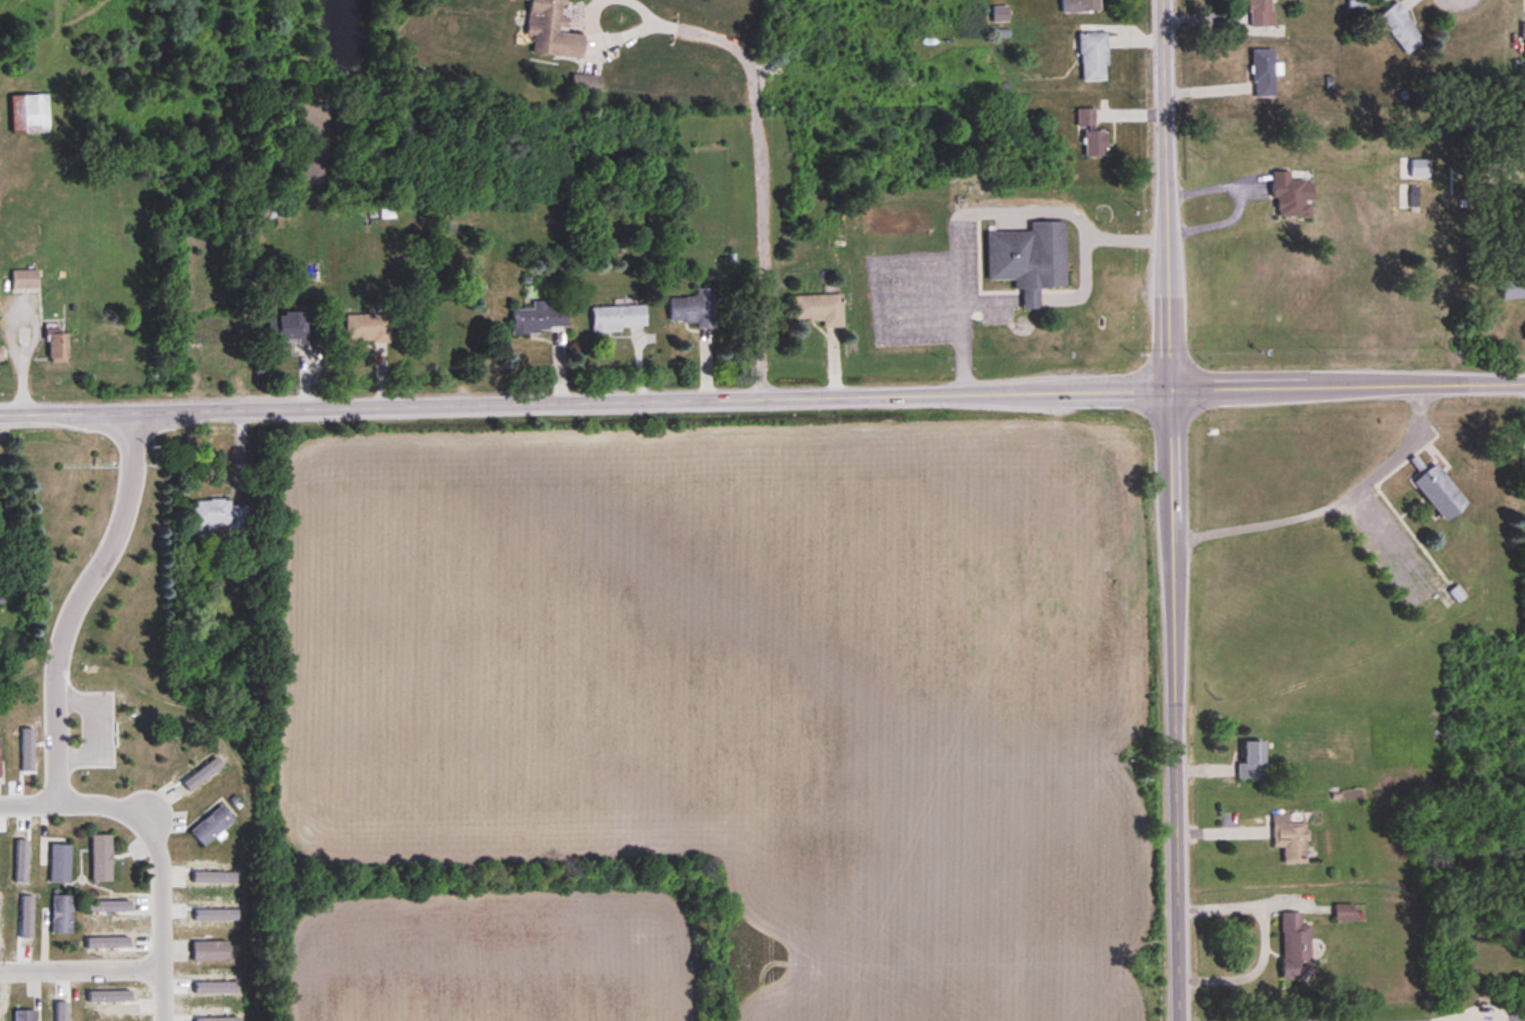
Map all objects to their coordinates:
building: (1358, 4)
building: (1081, 6)
road: (645, 10)
building: (1261, 13)
building: (1399, 28)
building: (551, 30)
building: (1523, 31)
road: (610, 38)
building: (1094, 56)
building: (1263, 73)
building: (585, 86)
building: (30, 114)
building: (1086, 117)
building: (1095, 143)
road: (760, 172)
building: (1291, 196)
road: (1240, 198)
road: (983, 211)
building: (1028, 258)
building: (25, 281)
road: (1082, 285)
building: (1512, 290)
road: (1030, 300)
road: (992, 301)
building: (694, 309)
building: (819, 309)
building: (540, 317)
building: (618, 318)
building: (367, 328)
building: (288, 329)
building: (58, 348)
building: (0, 355)
road: (762, 392)
building: (1439, 491)
road: (1330, 502)
road: (1169, 510)
building: (220, 515)
building: (1457, 593)
road: (77, 601)
building: (0, 758)
building: (1253, 760)
building: (198, 774)
road: (71, 803)
building: (212, 826)
building: (1290, 839)
building: (101, 858)
building: (60, 863)
building: (62, 914)
road: (161, 916)
road: (1266, 943)
building: (1296, 947)
building: (210, 950)
road: (81, 968)
building: (24, 1014)
road: (1444, 1019)

